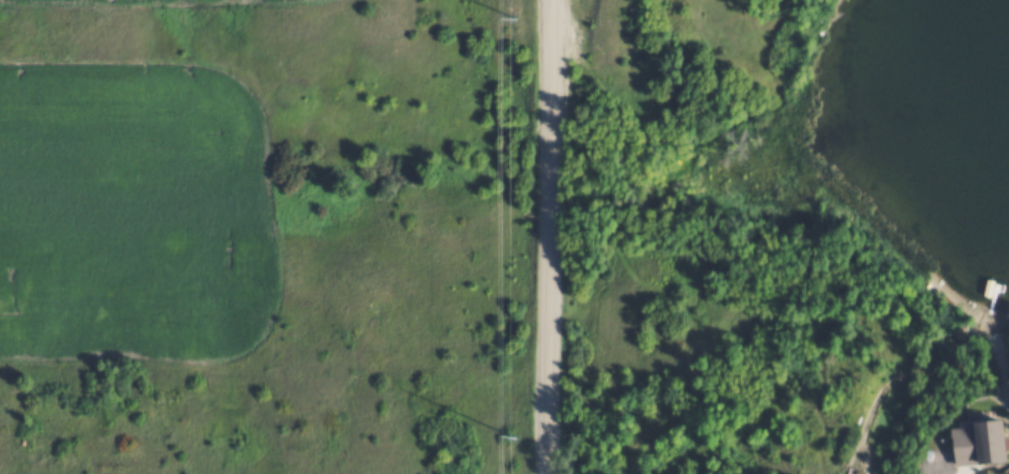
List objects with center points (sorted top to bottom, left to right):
road: (548, 237)
building: (976, 440)

